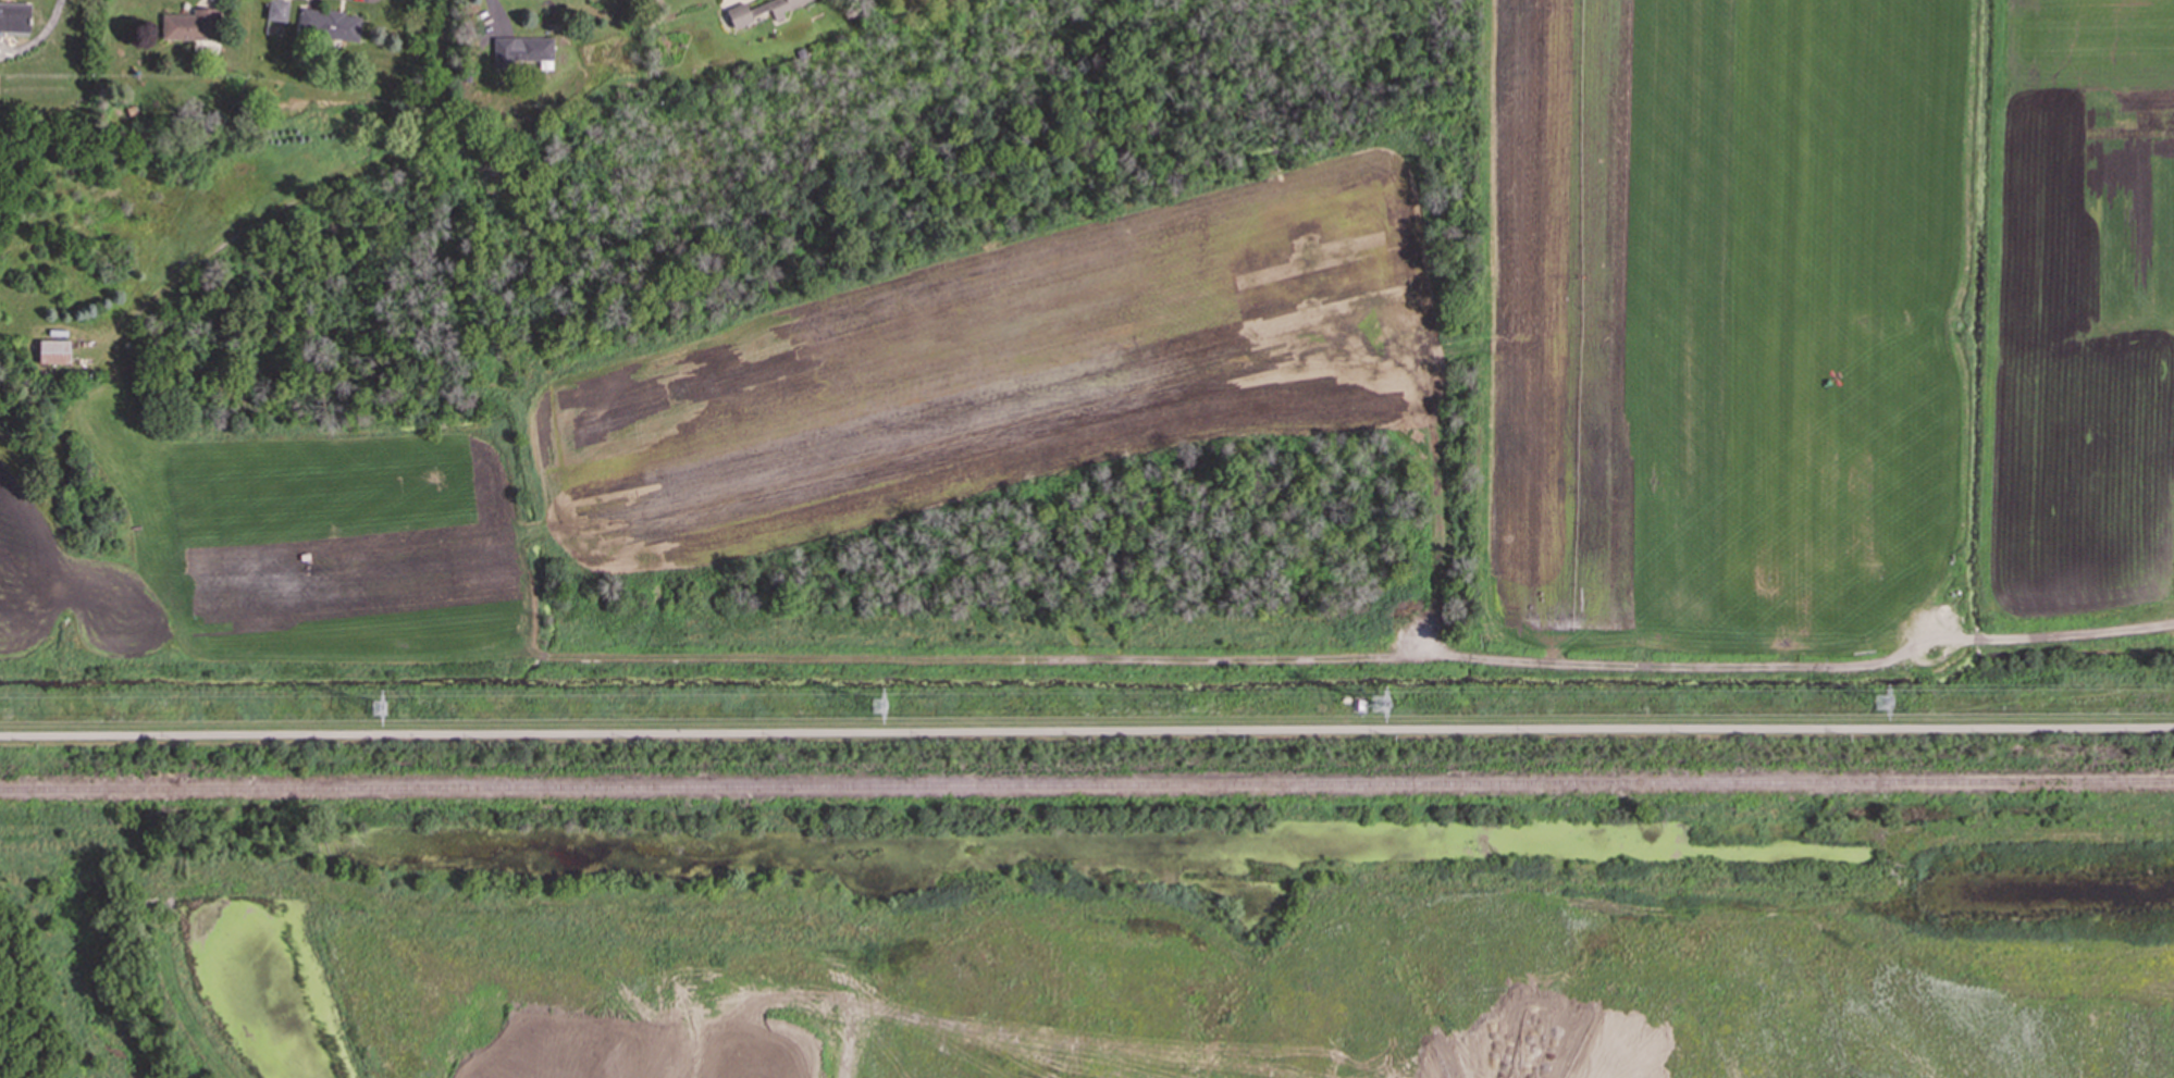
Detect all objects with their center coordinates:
building: (277, 10)
building: (759, 10)
building: (14, 16)
building: (188, 25)
building: (326, 27)
building: (521, 50)
building: (53, 351)
crop: (1366, 367)
road: (1540, 656)
power tower: (1885, 704)
power tower: (881, 706)
power tower: (1381, 706)
power tower: (380, 711)
road: (1086, 731)
railway: (1086, 789)

